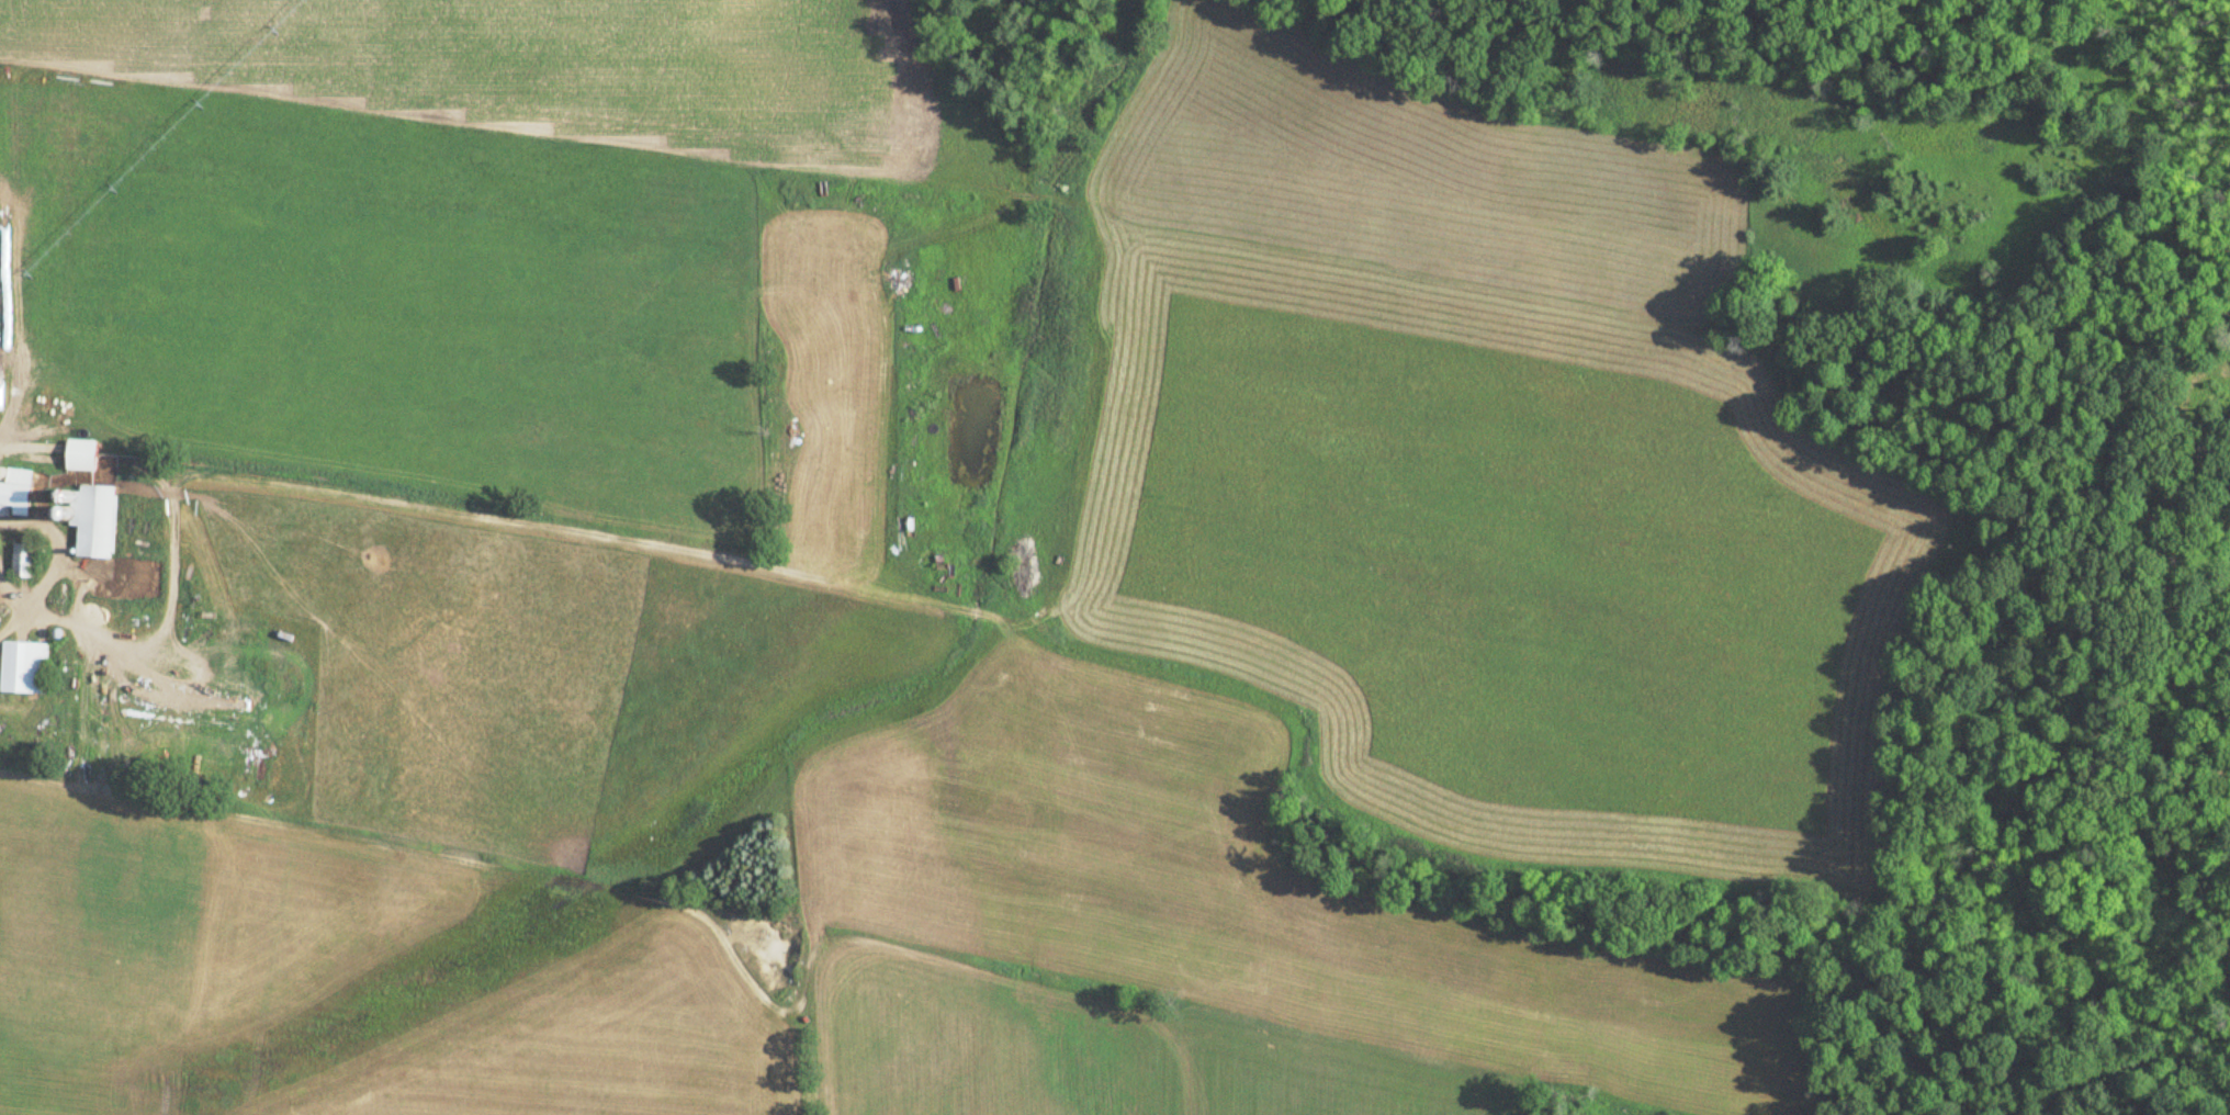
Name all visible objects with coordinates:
building: (79, 454)
building: (15, 491)
building: (867, 513)
building: (90, 519)
building: (21, 560)
road: (10, 617)
road: (139, 635)
building: (22, 667)
road: (117, 791)

